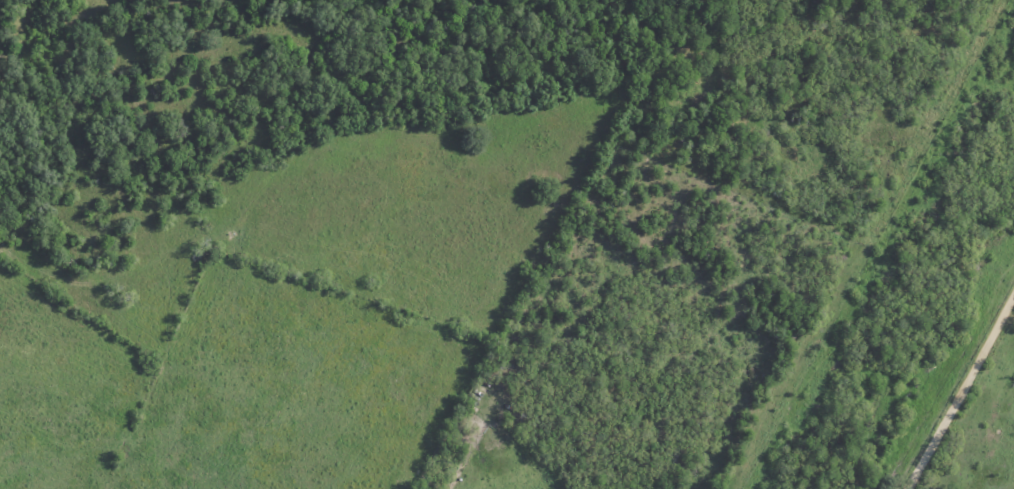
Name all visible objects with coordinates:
road: (956, 384)

